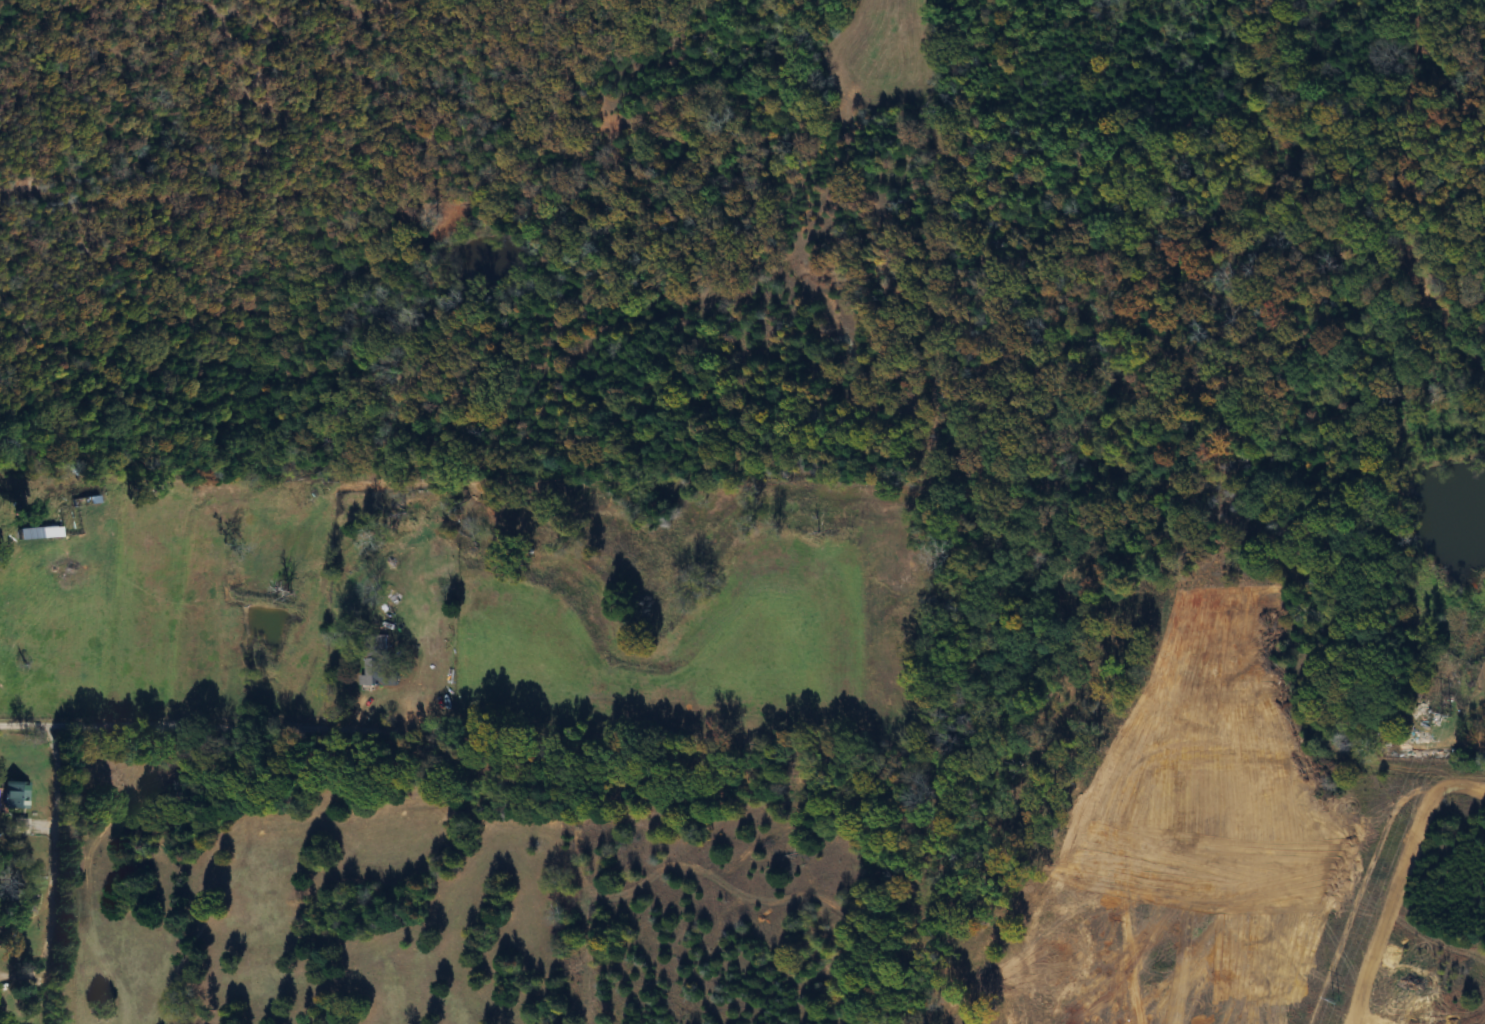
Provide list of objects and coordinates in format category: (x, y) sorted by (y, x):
building: (376, 665)
road: (153, 728)
road: (56, 783)
building: (17, 794)

